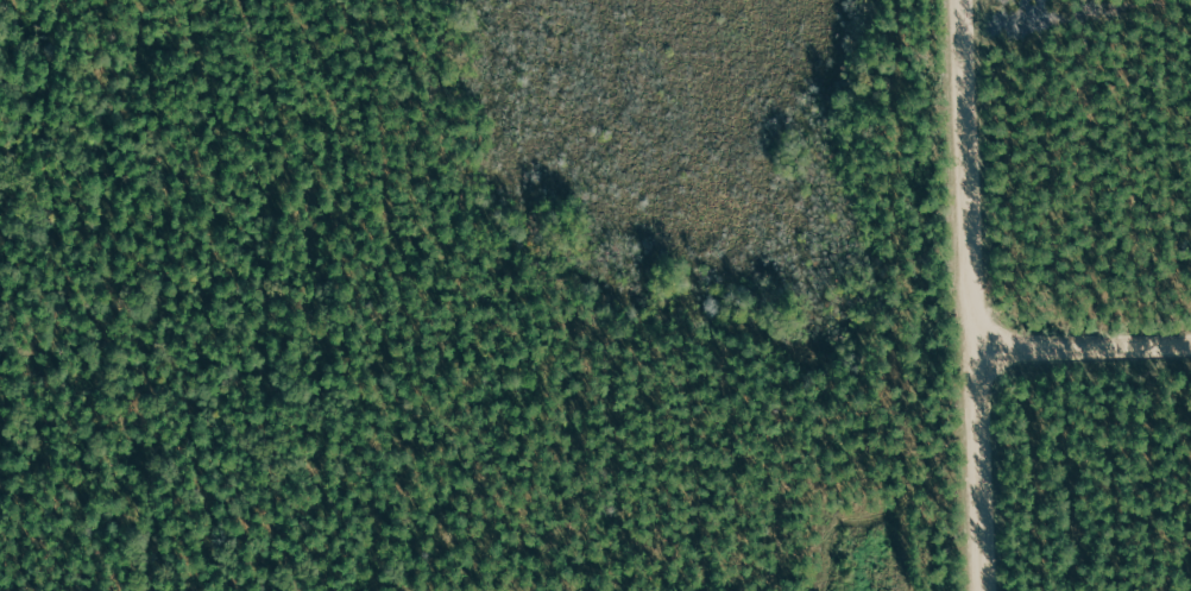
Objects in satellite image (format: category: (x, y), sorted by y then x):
road: (975, 295)
road: (1083, 345)

